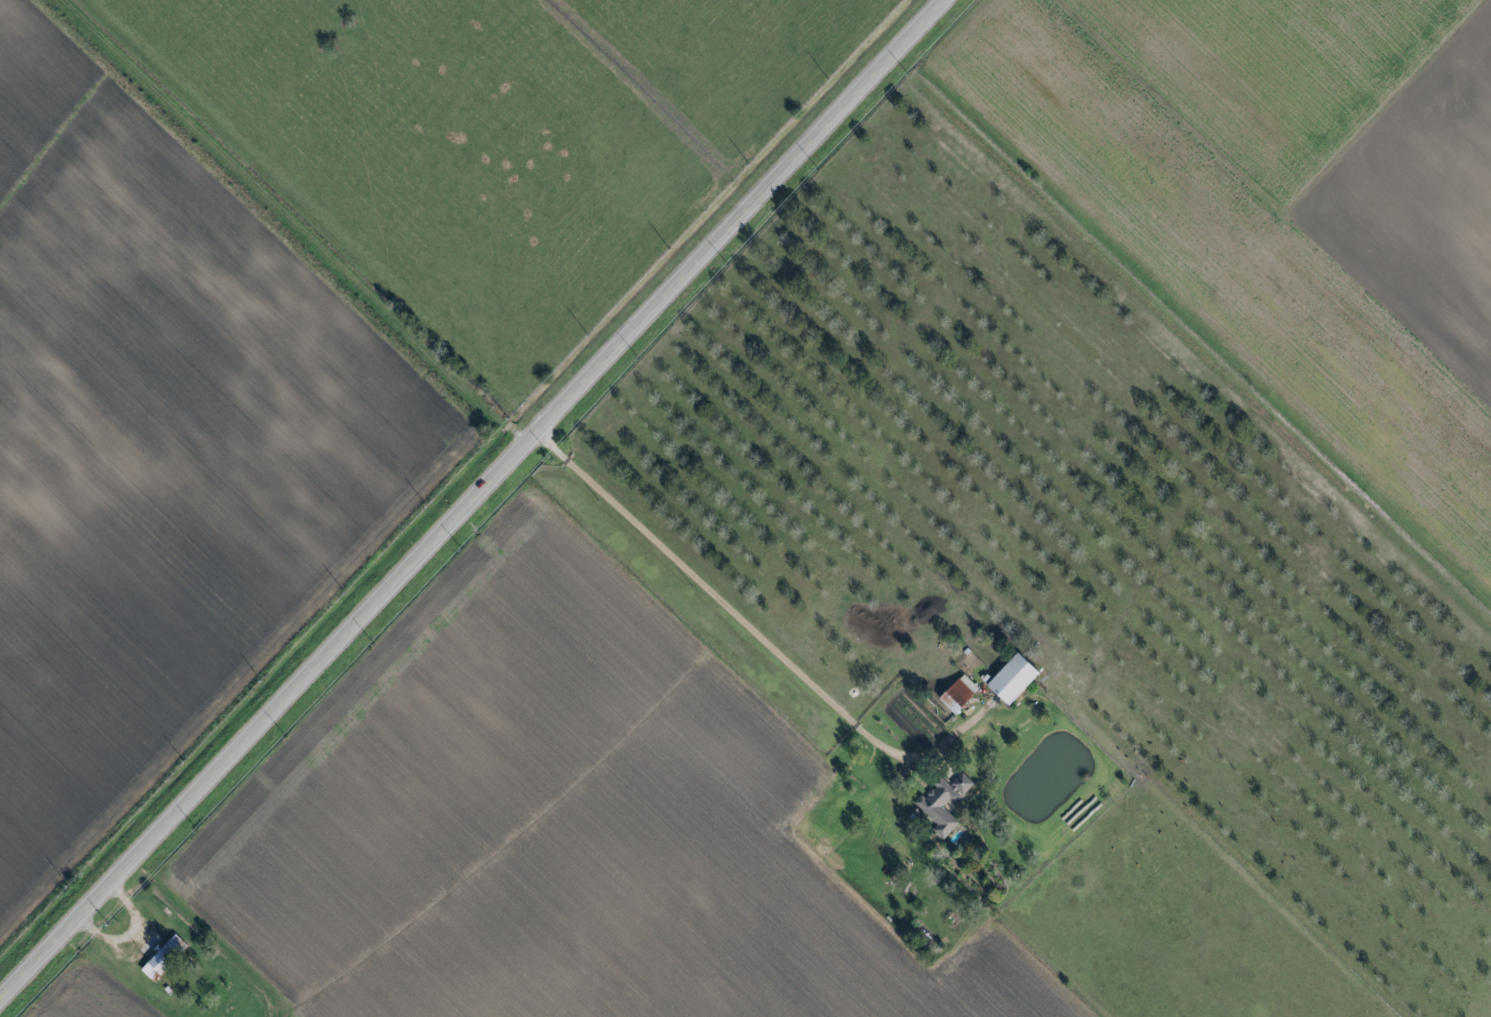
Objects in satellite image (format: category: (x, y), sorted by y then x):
road: (473, 500)
road: (724, 604)
building: (1017, 678)
building: (961, 694)
building: (946, 803)
road: (1120, 904)
building: (165, 959)

